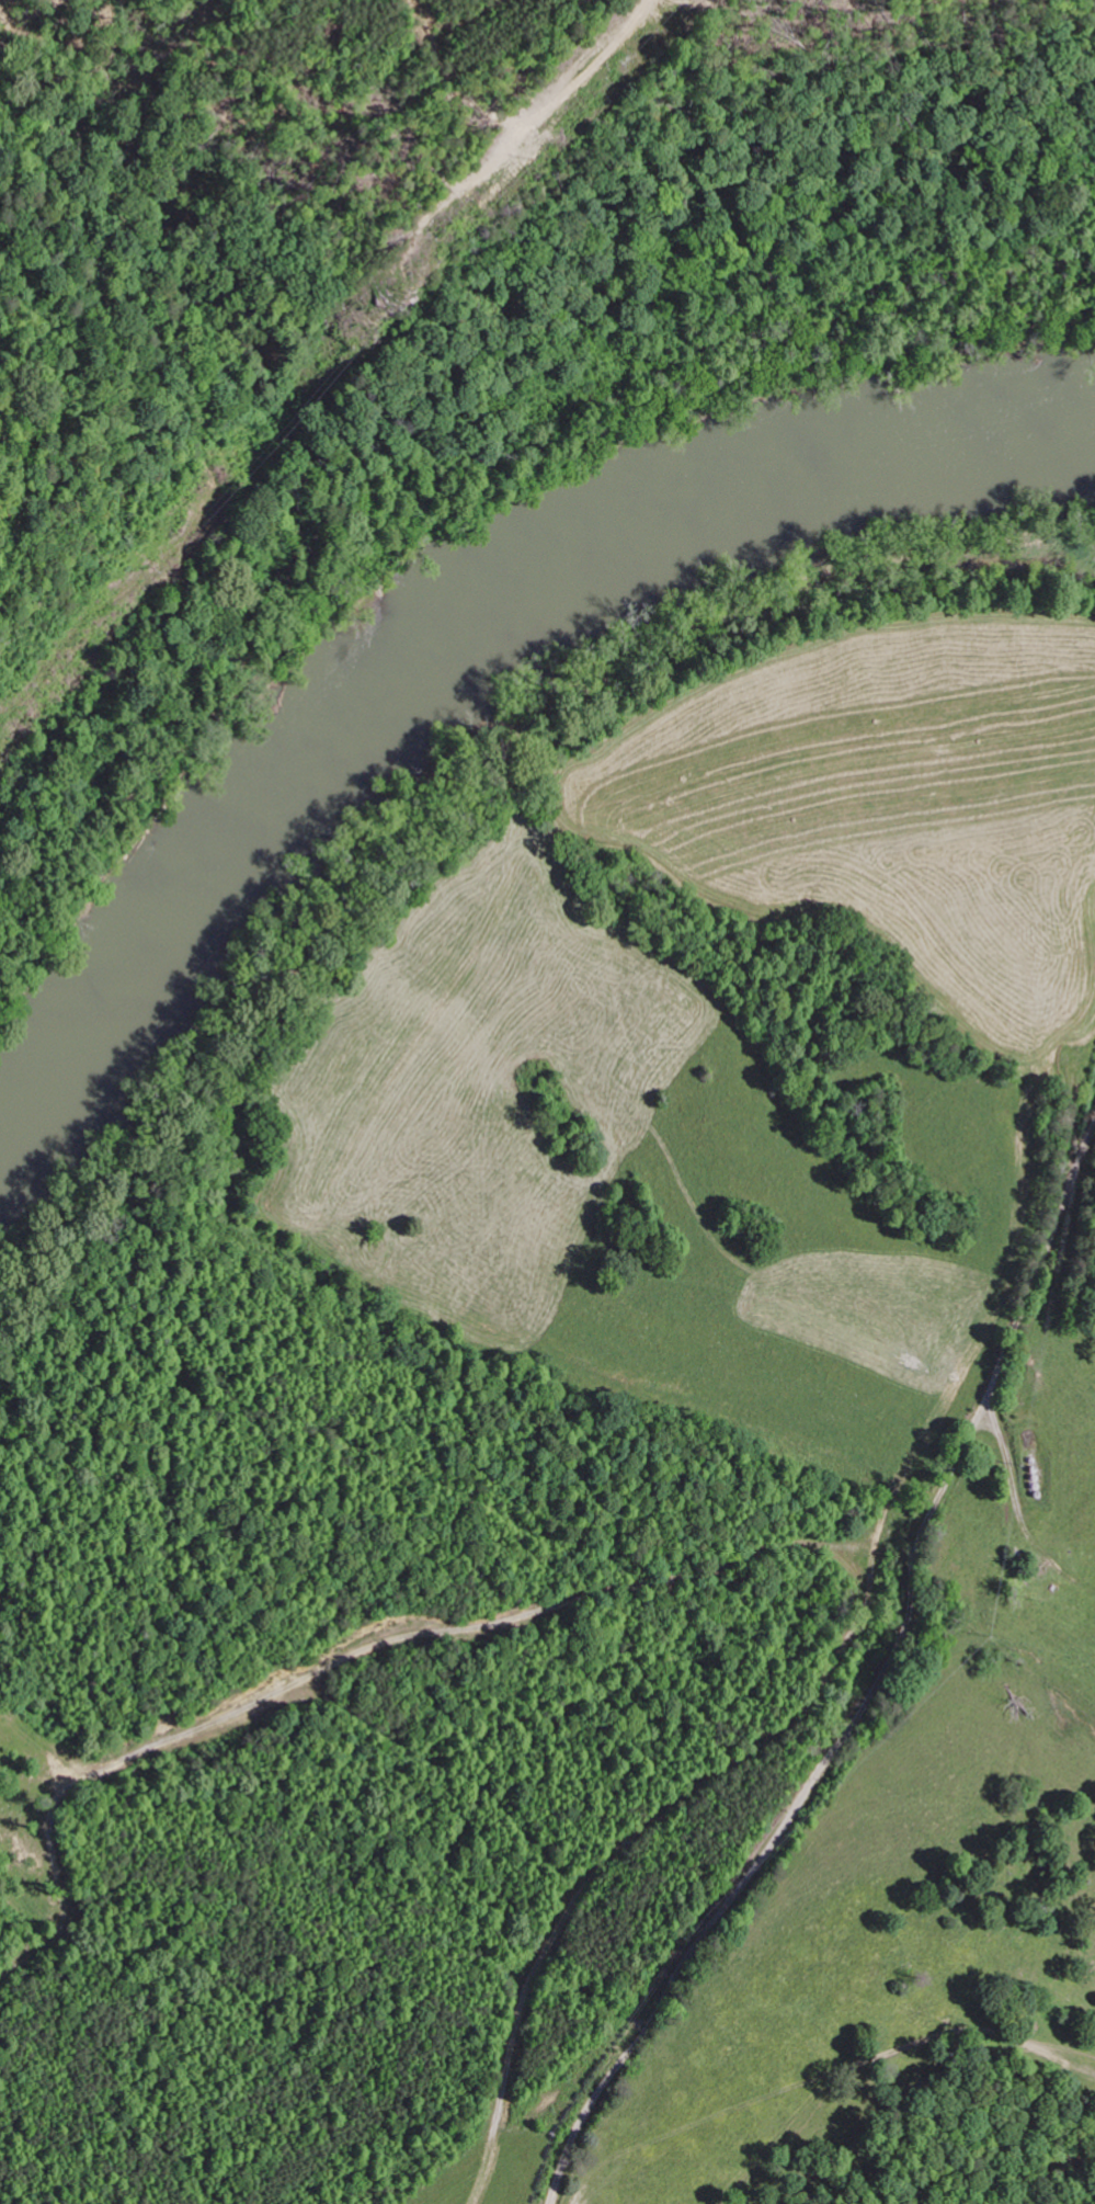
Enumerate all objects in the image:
river: (467, 612)
road: (879, 1665)

